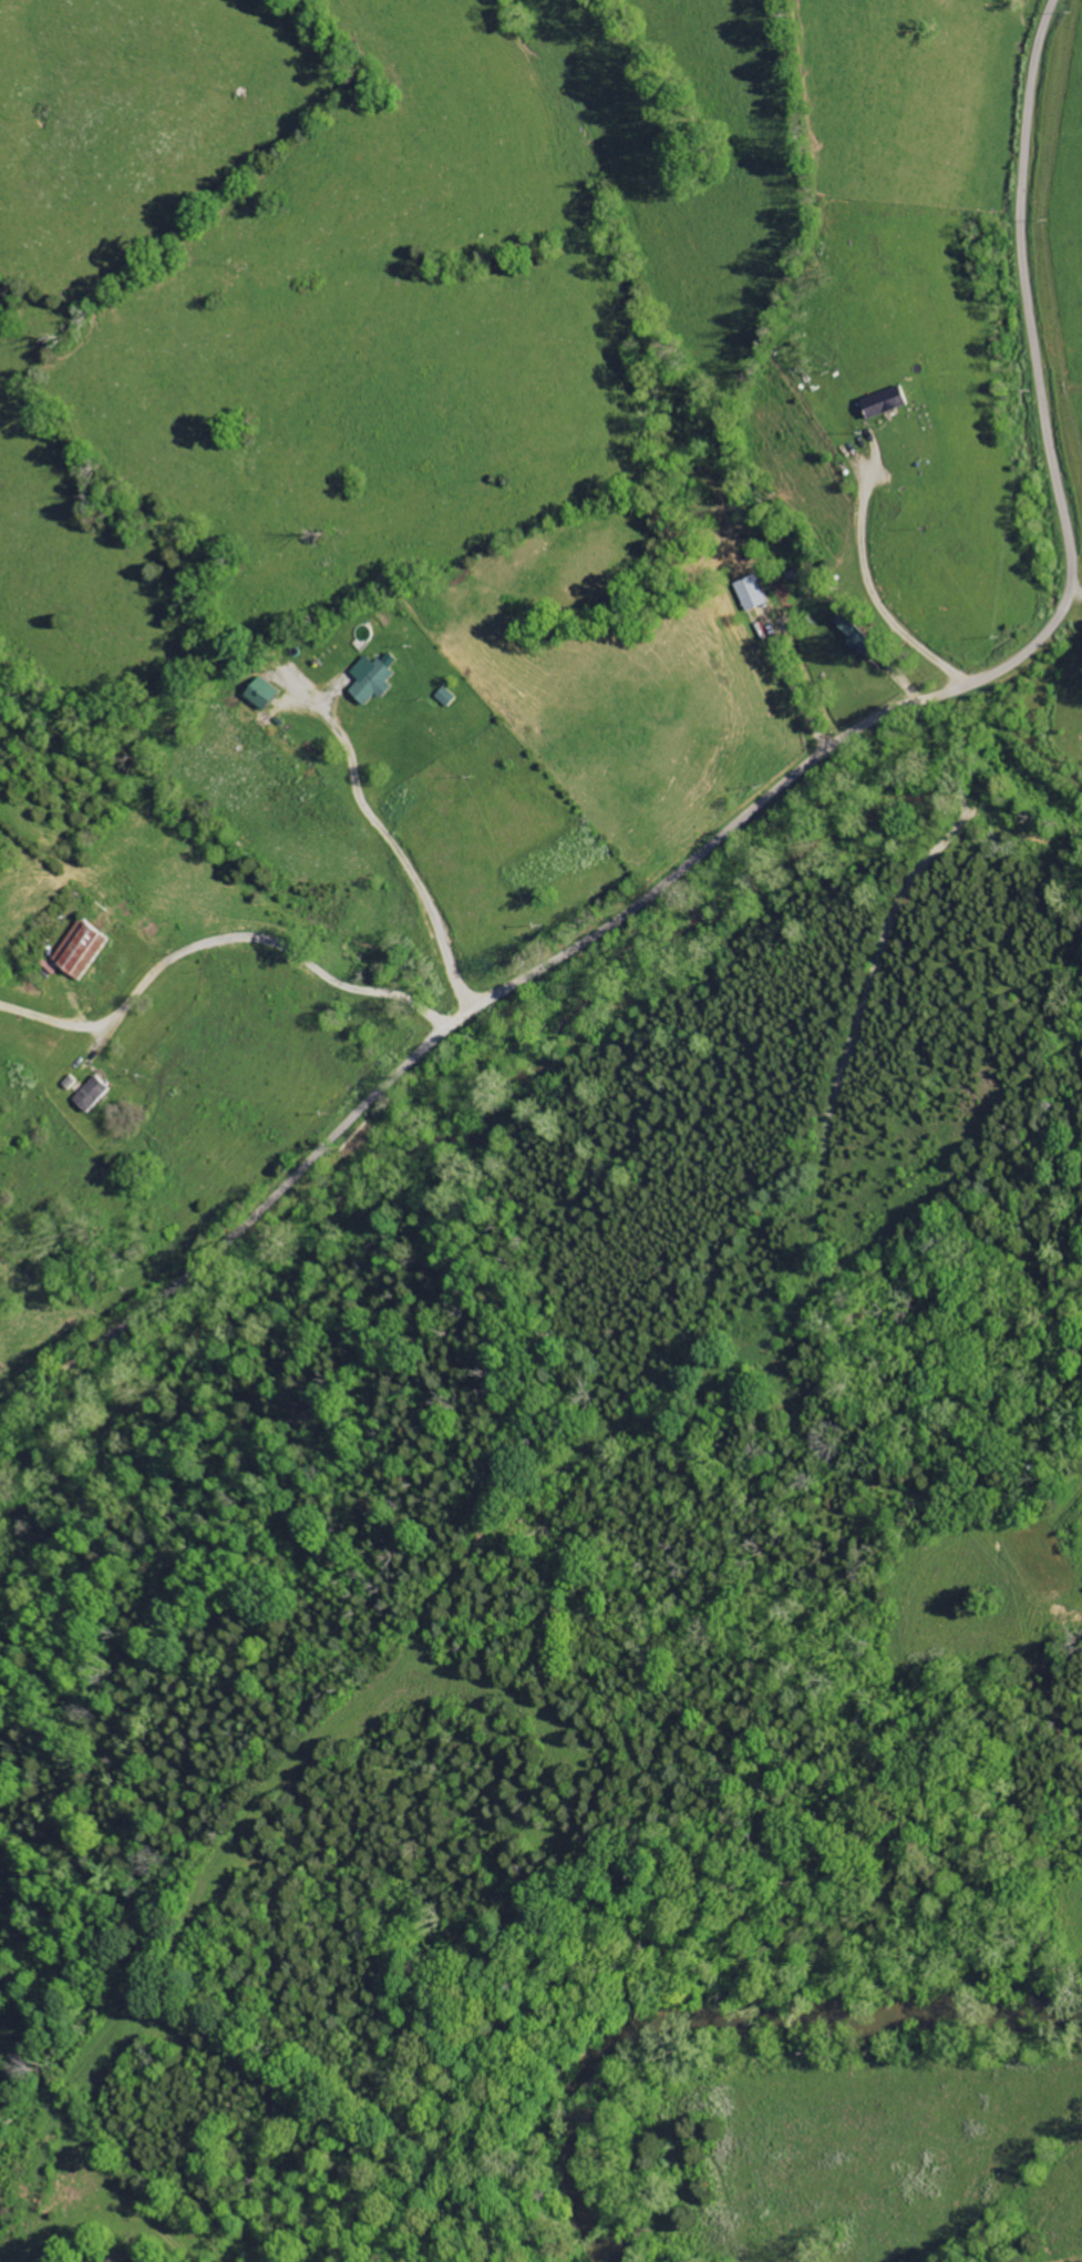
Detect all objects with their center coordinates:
building: (884, 401)
building: (750, 591)
road: (873, 595)
building: (854, 633)
building: (372, 680)
road: (791, 690)
building: (260, 692)
road: (760, 801)
road: (392, 860)
road: (218, 941)
building: (81, 949)

